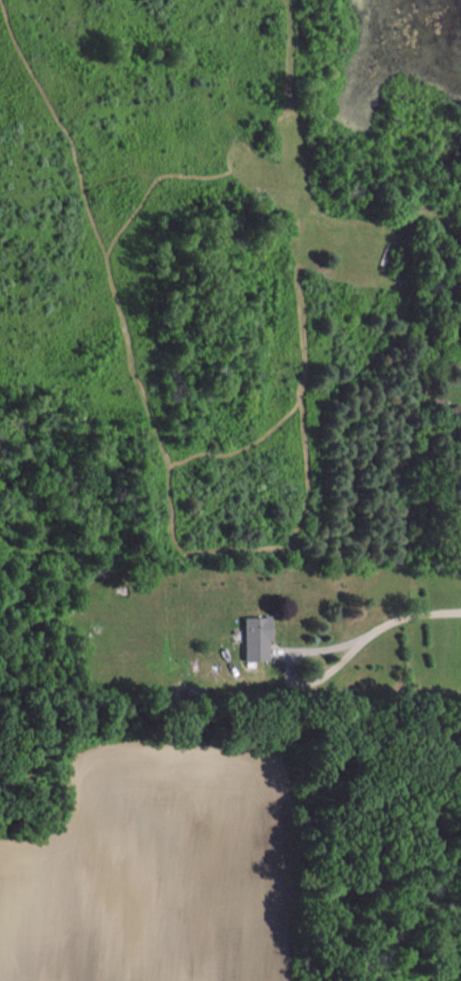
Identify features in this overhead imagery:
road: (398, 617)
building: (257, 638)

